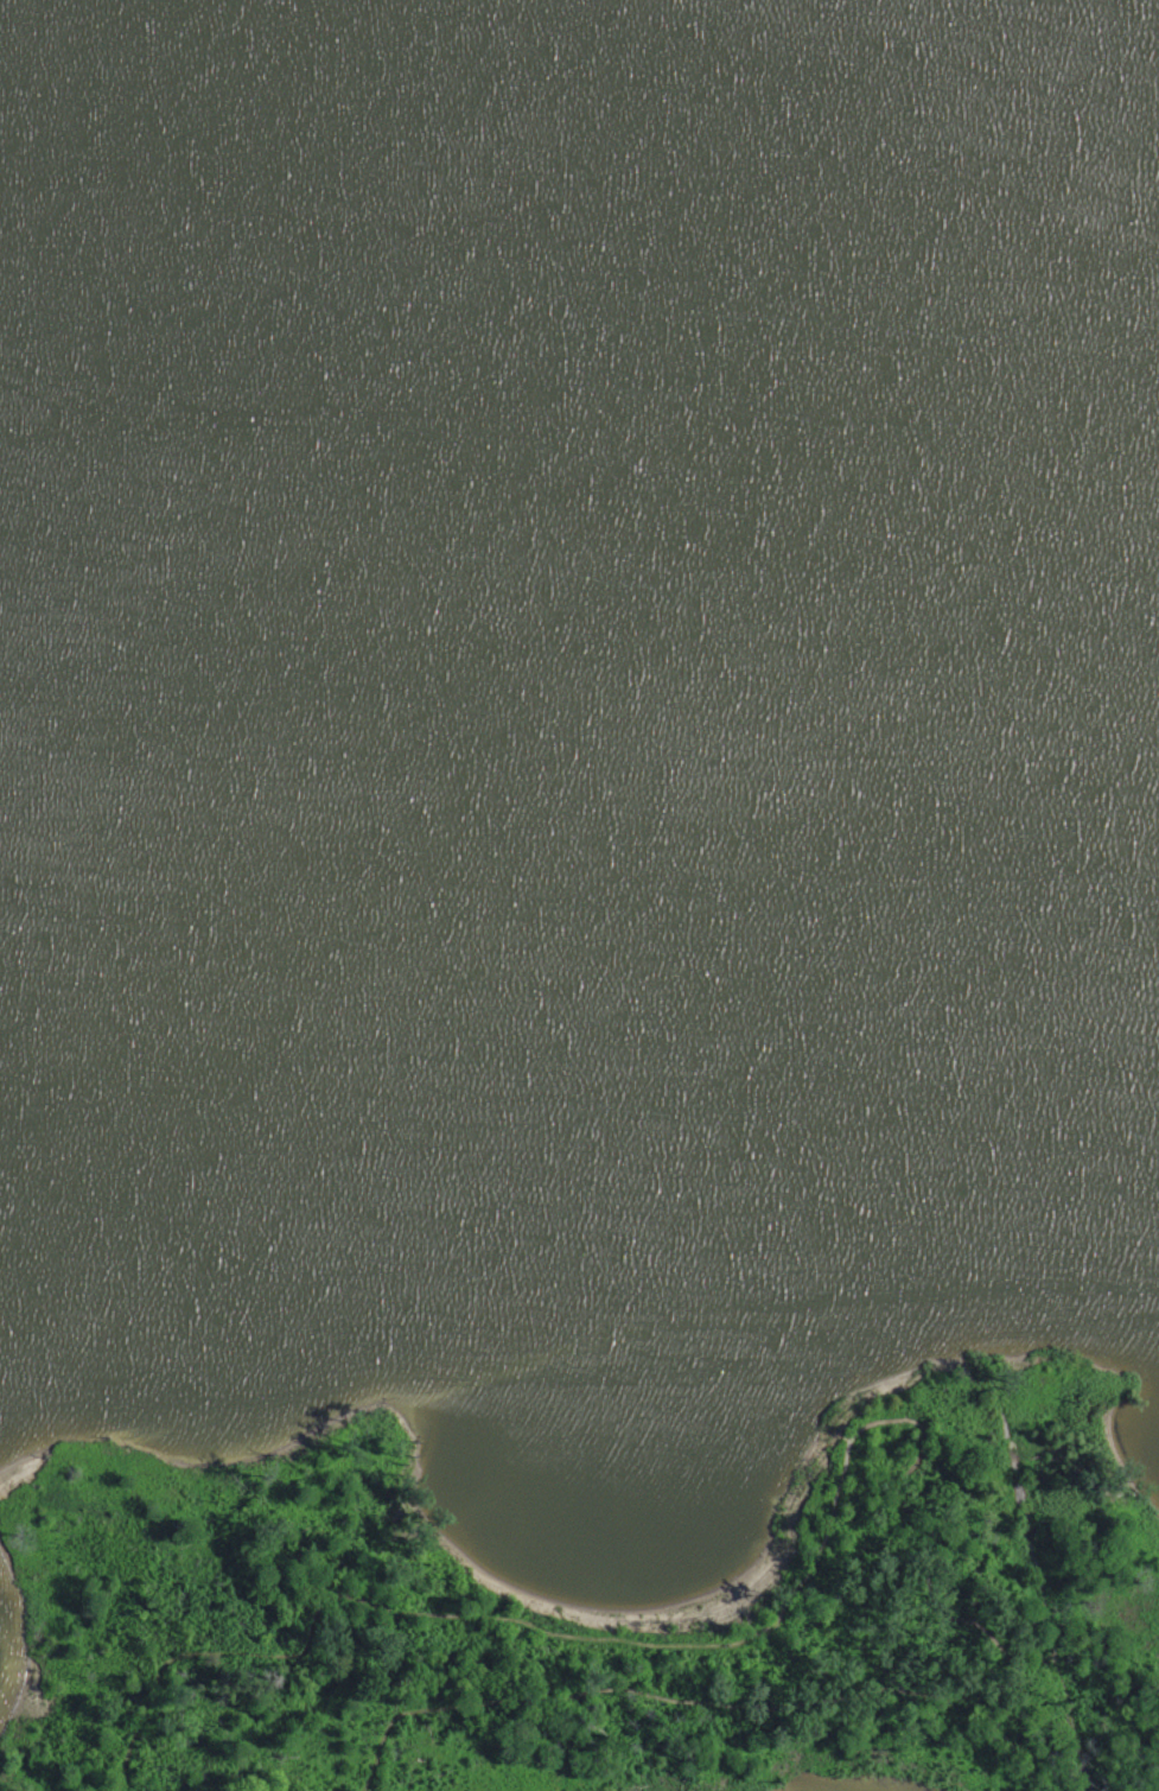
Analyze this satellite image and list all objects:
river: (580, 431)
road: (928, 1167)
road: (1038, 1574)
road: (733, 1639)
road: (682, 1698)
road: (959, 1752)

